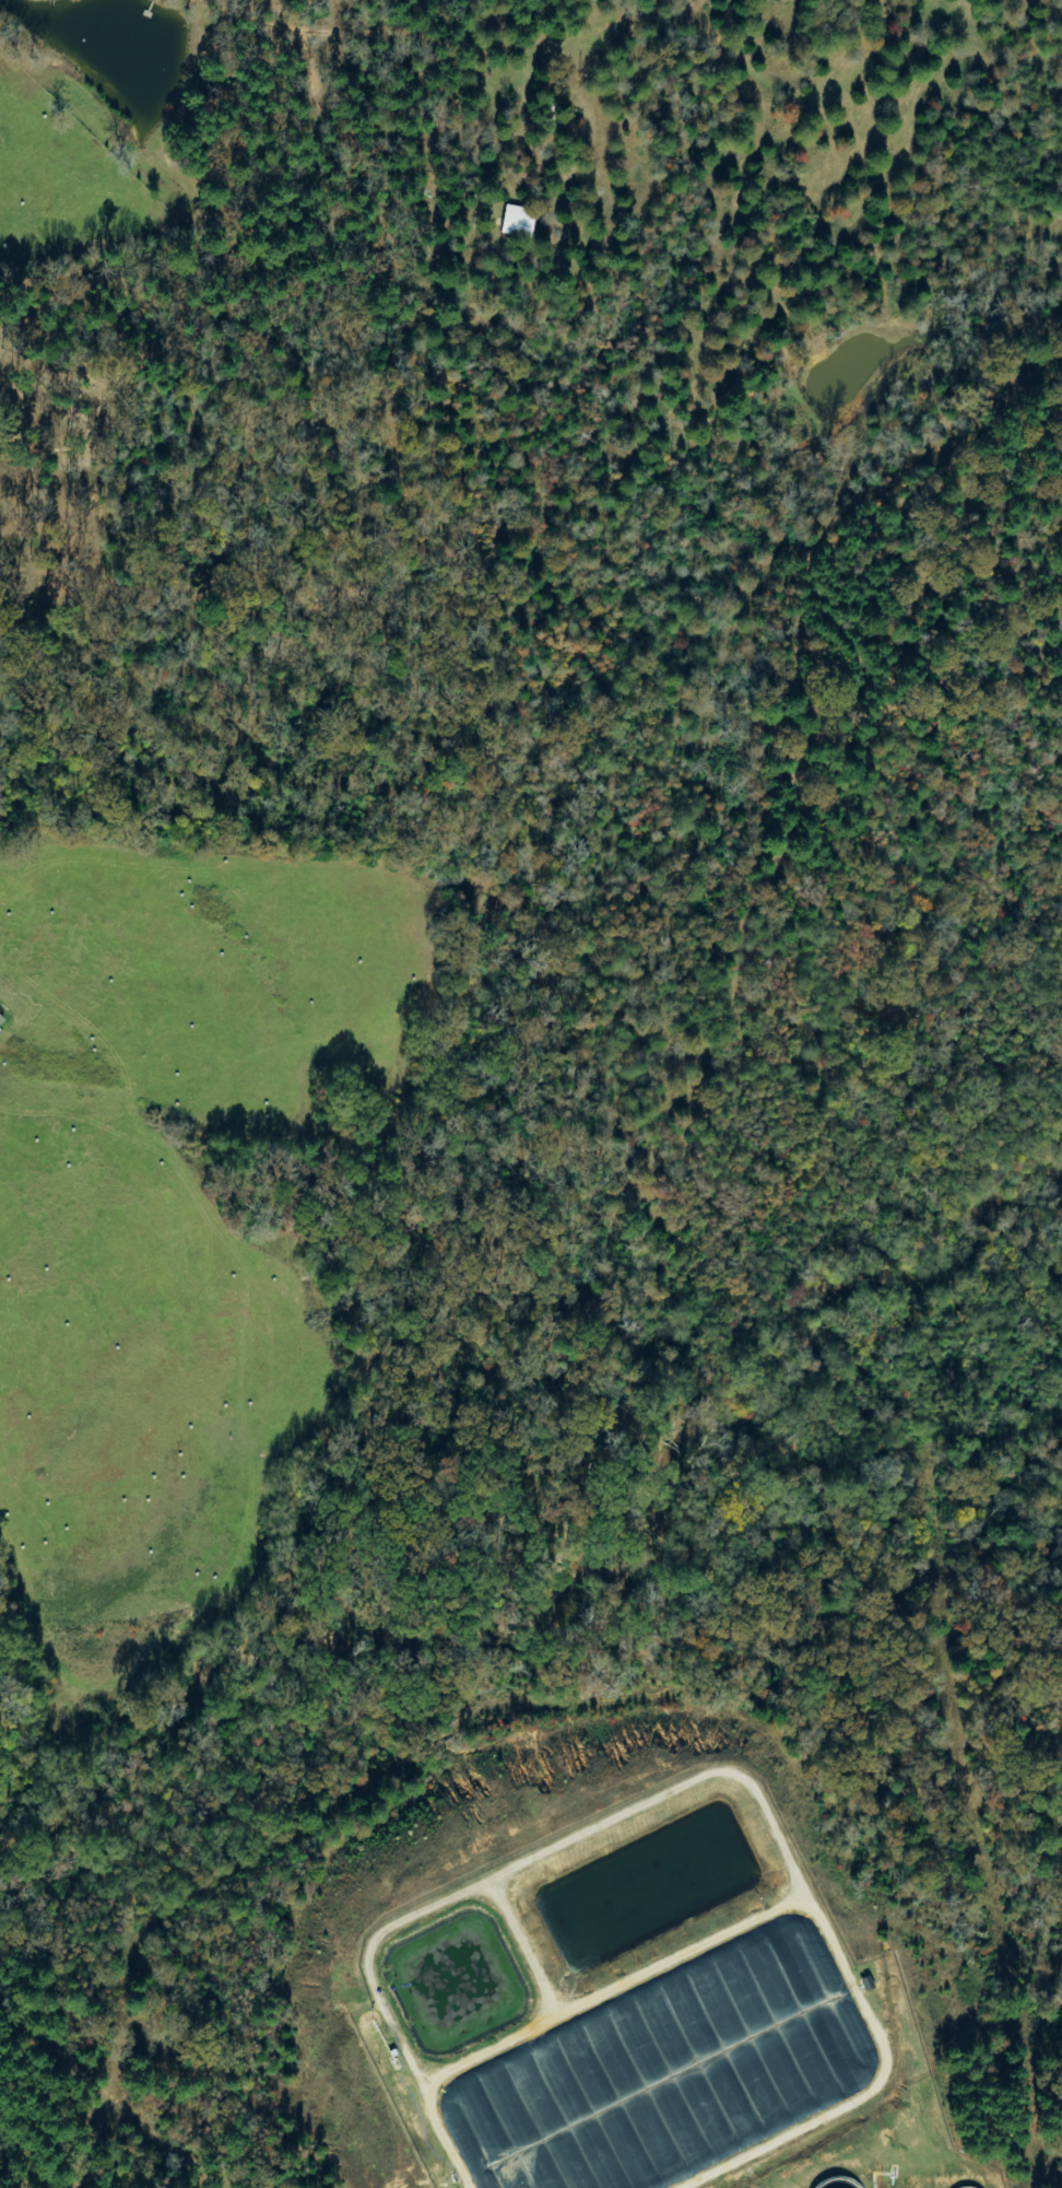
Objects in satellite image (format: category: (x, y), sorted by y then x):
building: (517, 221)
building: (0, 1019)

